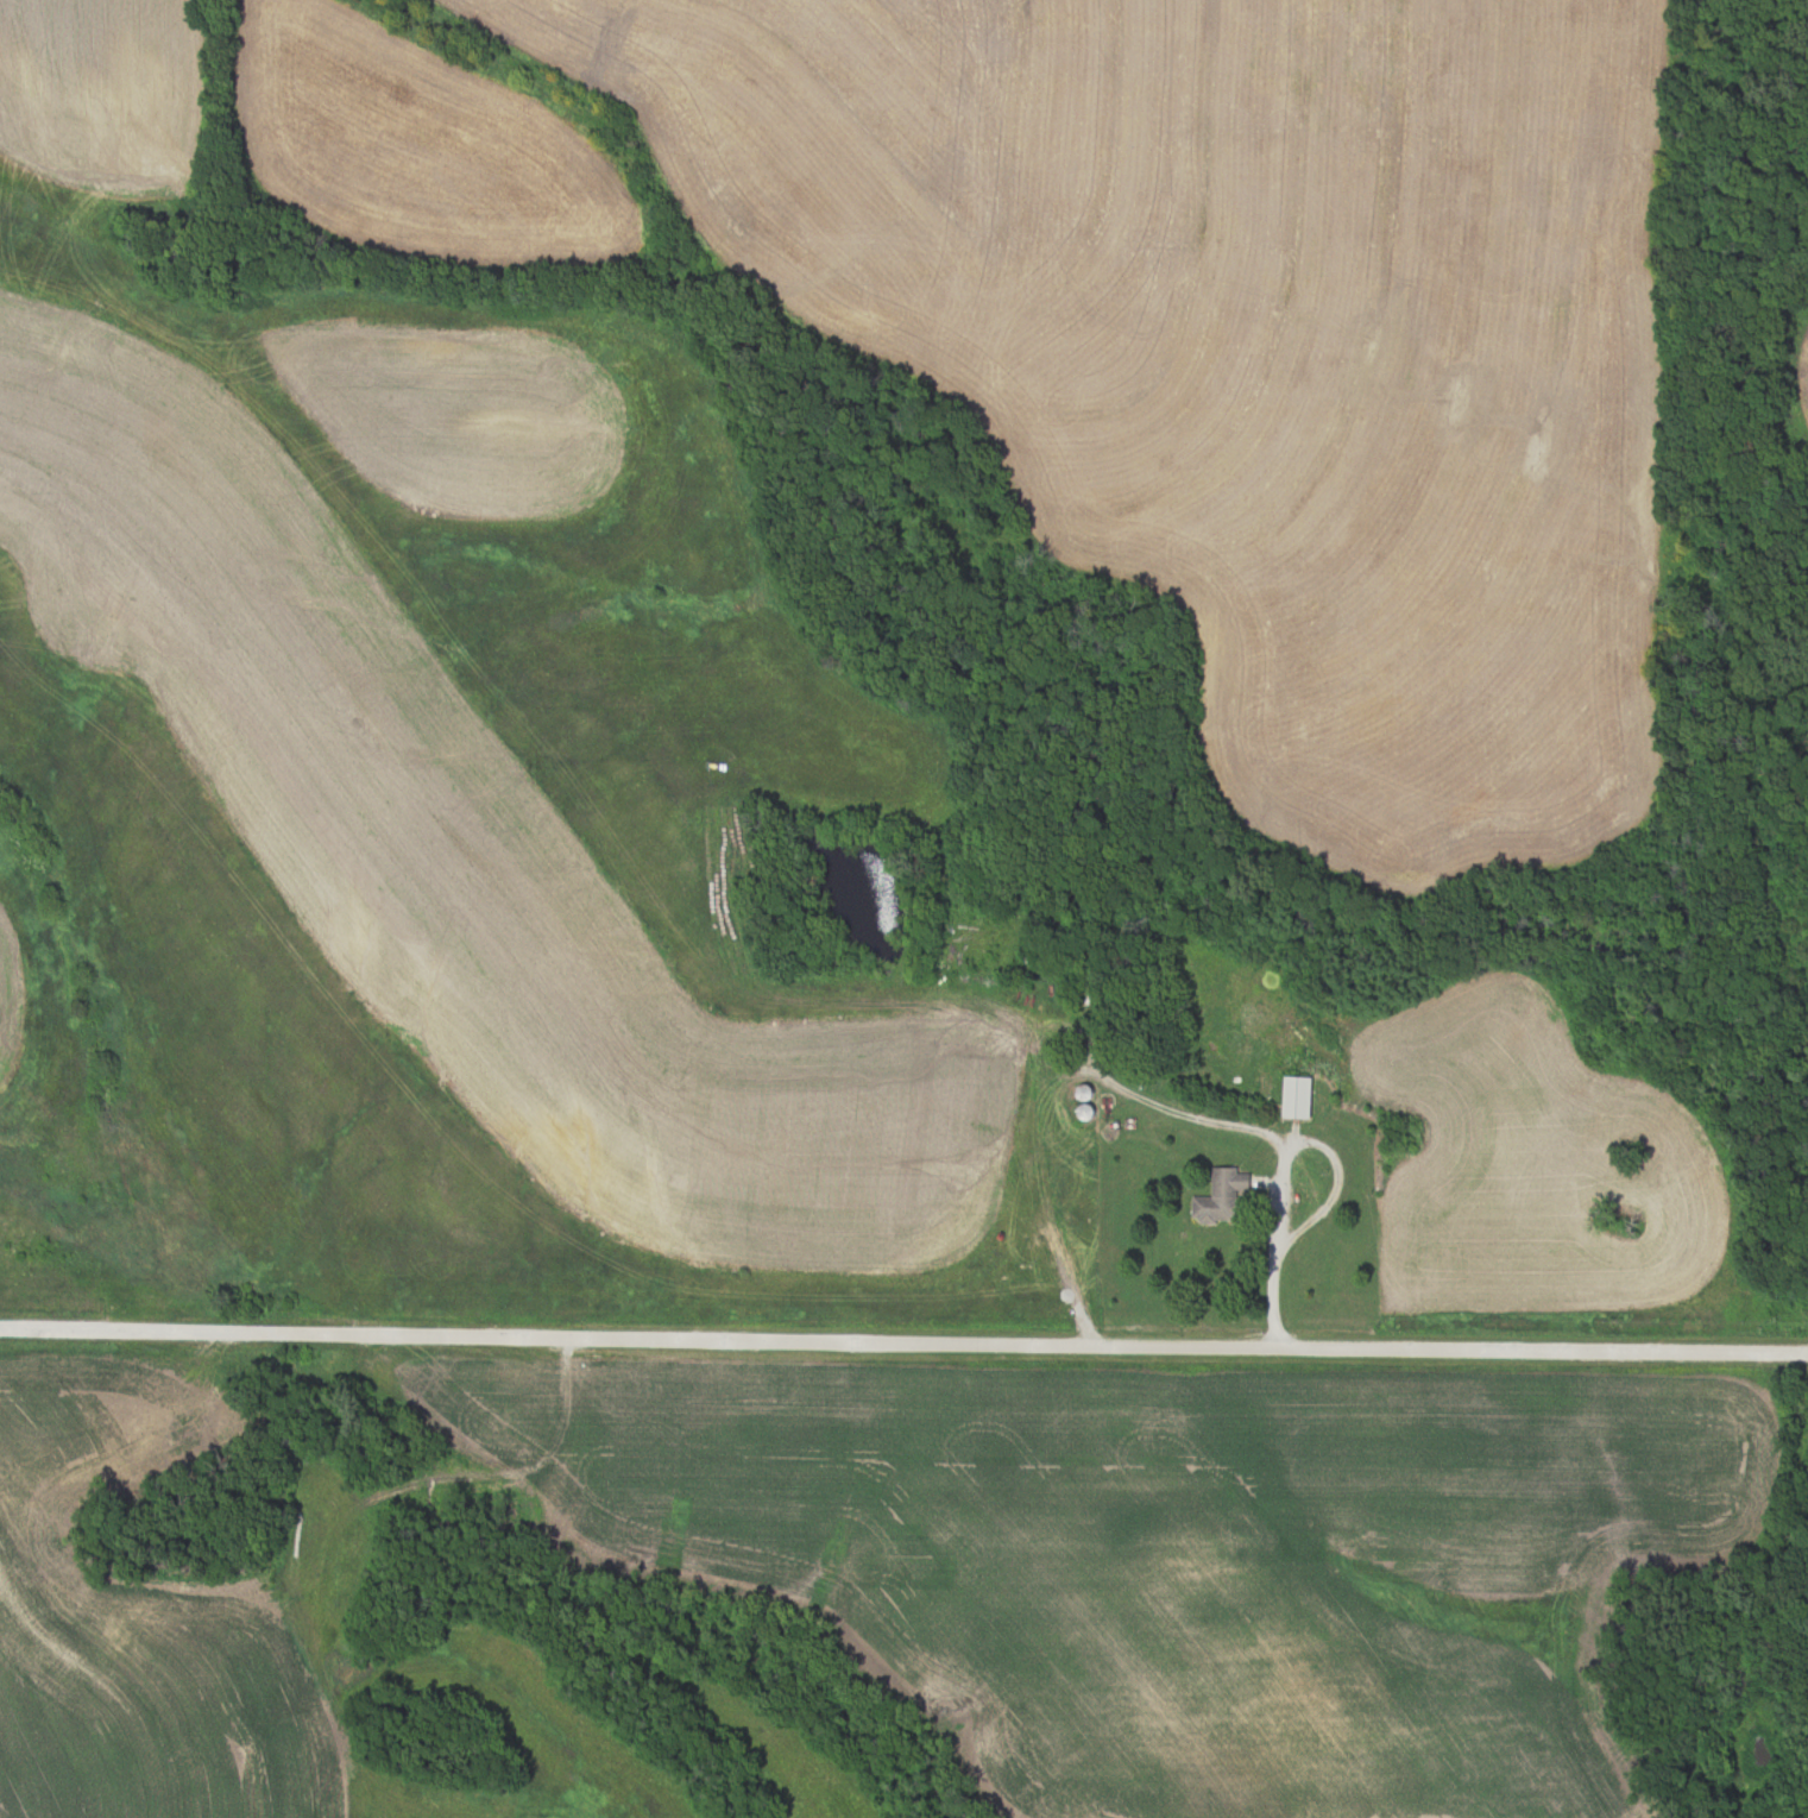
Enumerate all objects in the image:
building: (1078, 1102)
building: (1217, 1196)
road: (903, 1341)

